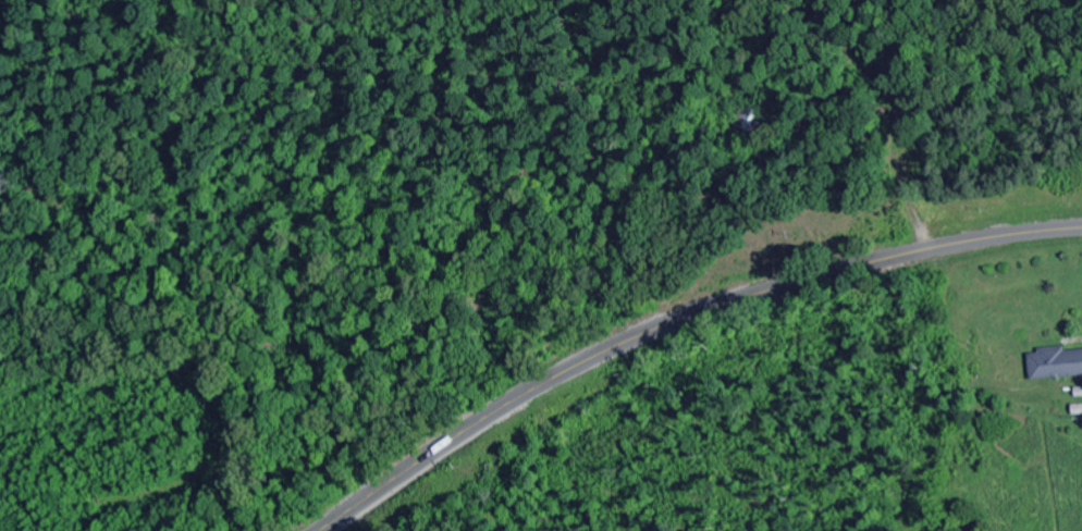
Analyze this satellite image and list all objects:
road: (676, 321)
building: (1057, 363)

